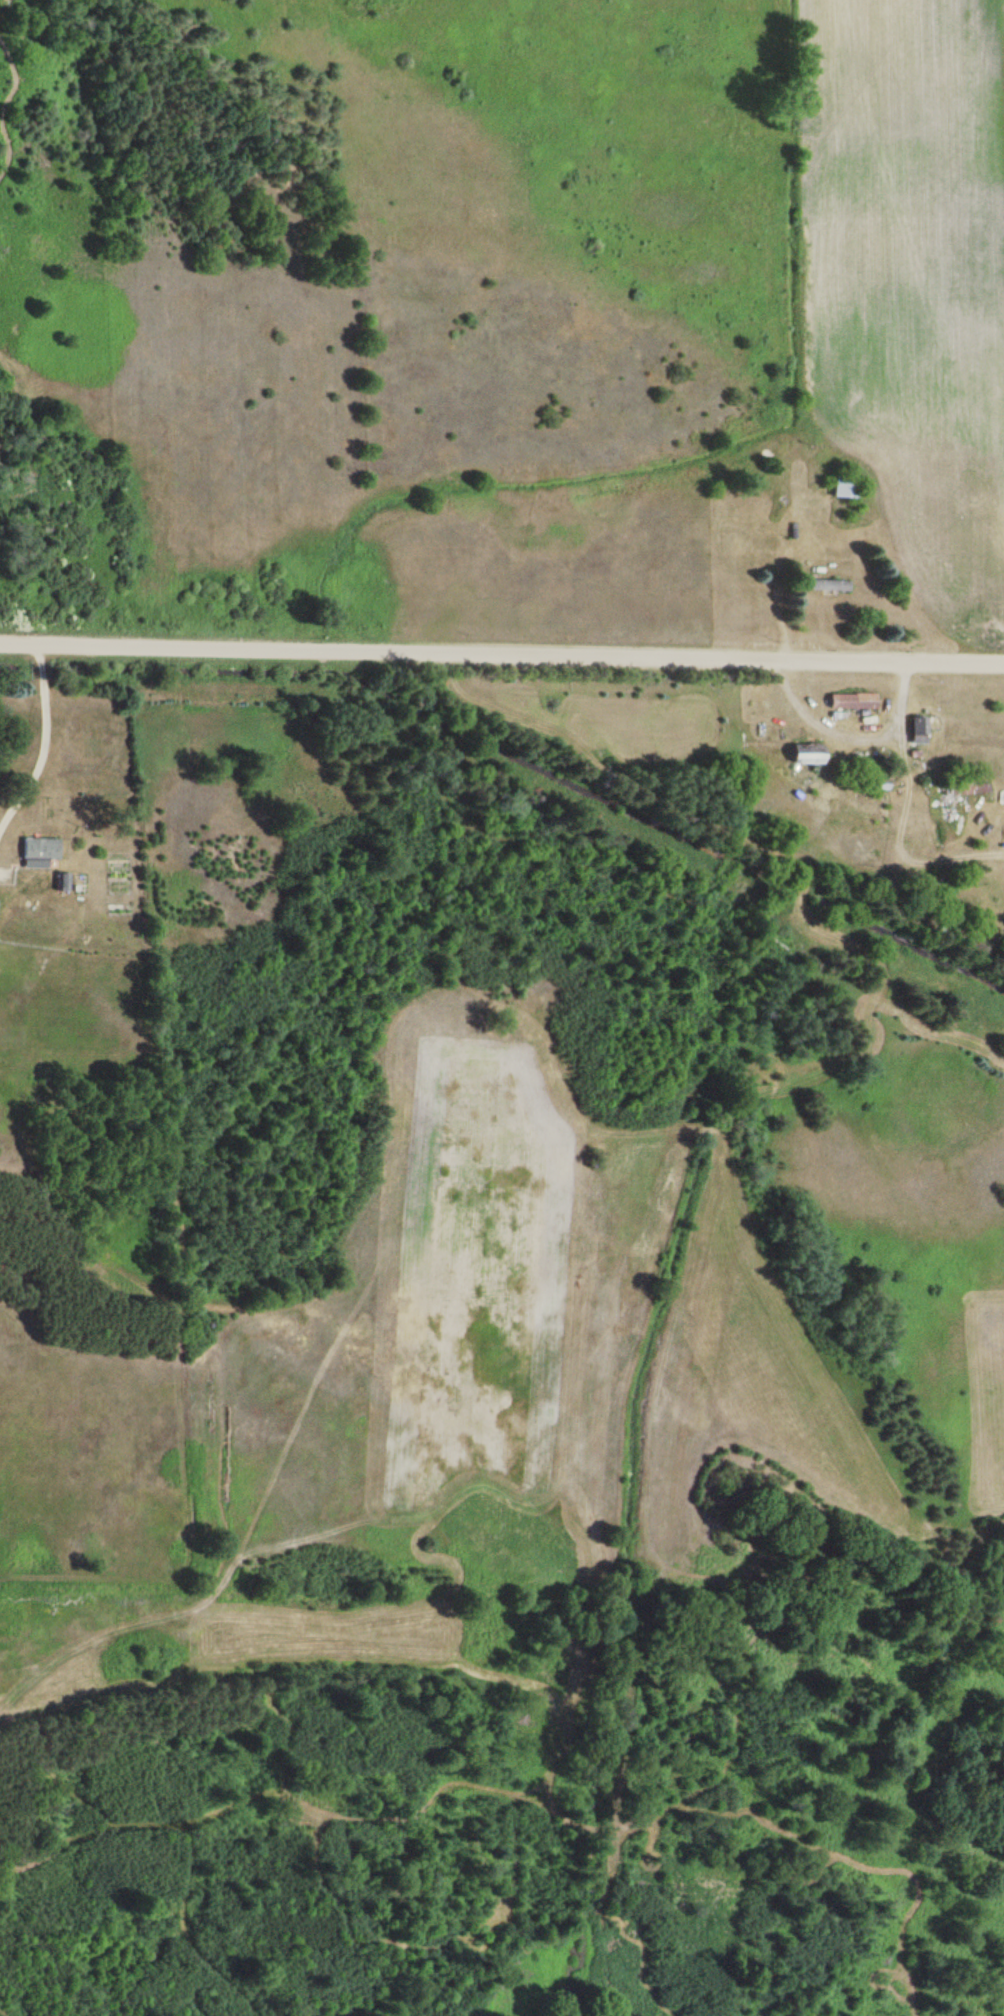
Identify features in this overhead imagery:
building: (842, 485)
building: (821, 584)
road: (502, 661)
building: (849, 700)
building: (915, 729)
building: (801, 753)
building: (964, 786)
building: (35, 848)
building: (58, 881)

